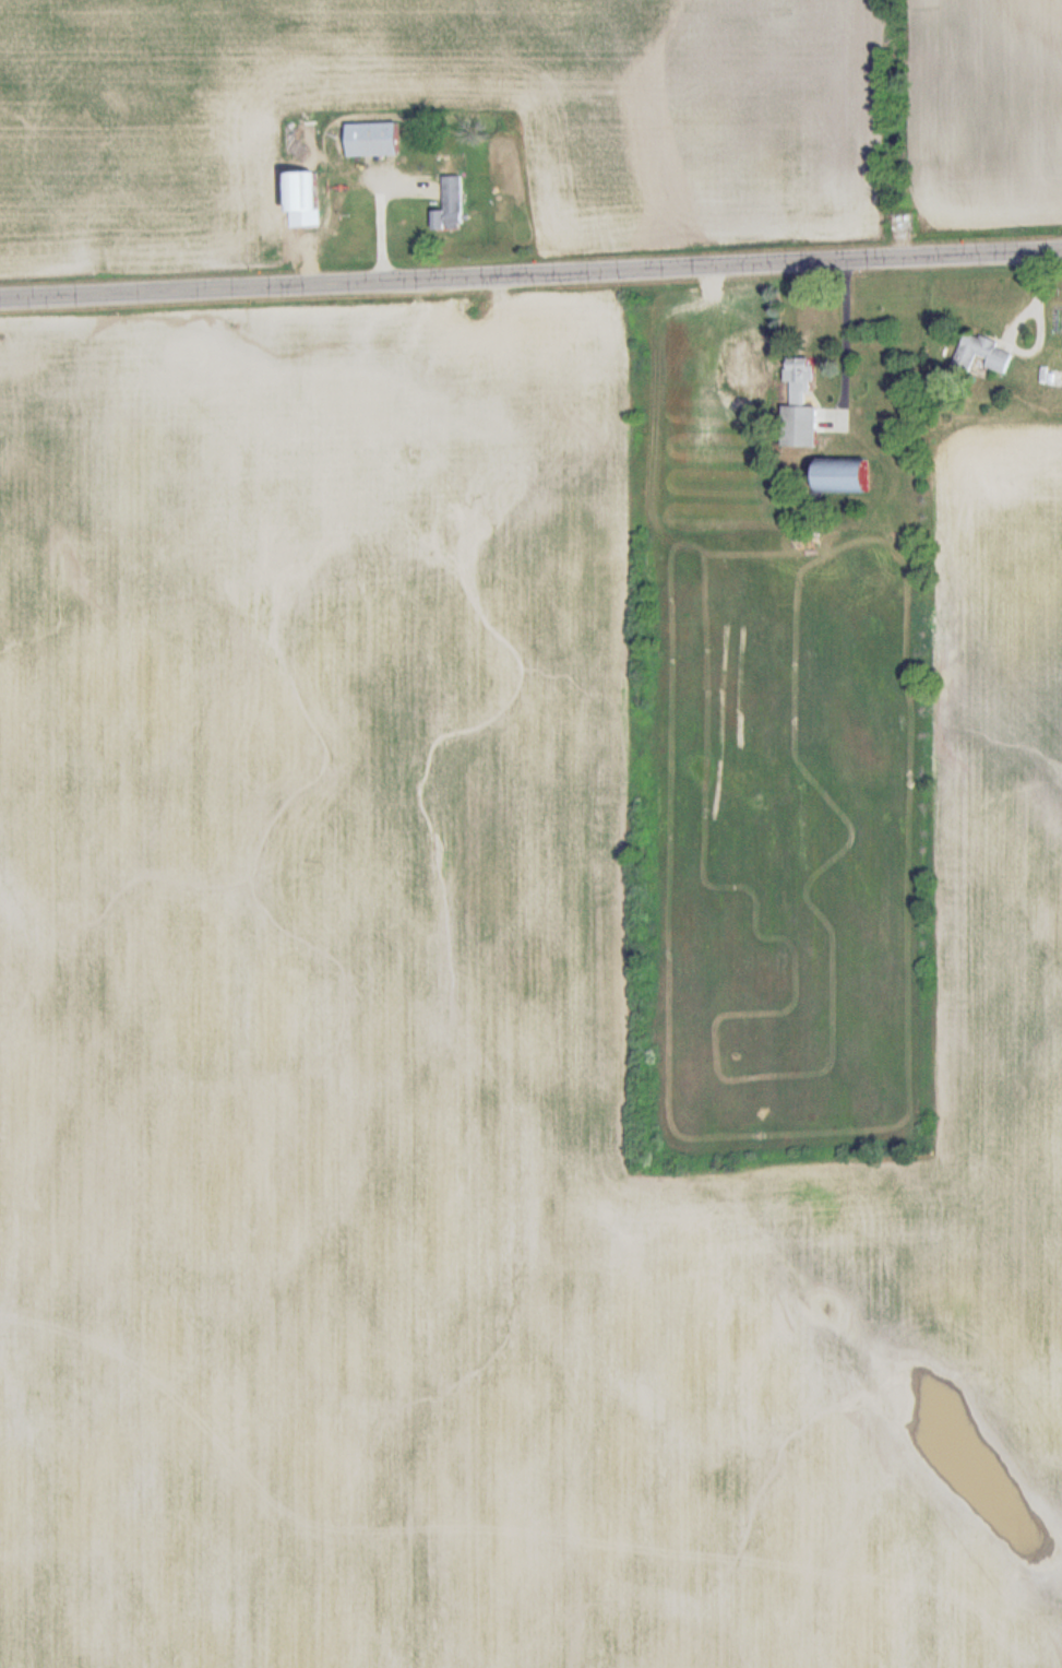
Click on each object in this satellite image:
building: (372, 140)
building: (303, 198)
building: (451, 204)
road: (385, 211)
road: (530, 271)
road: (849, 341)
building: (982, 355)
building: (800, 378)
building: (800, 427)
building: (843, 475)

